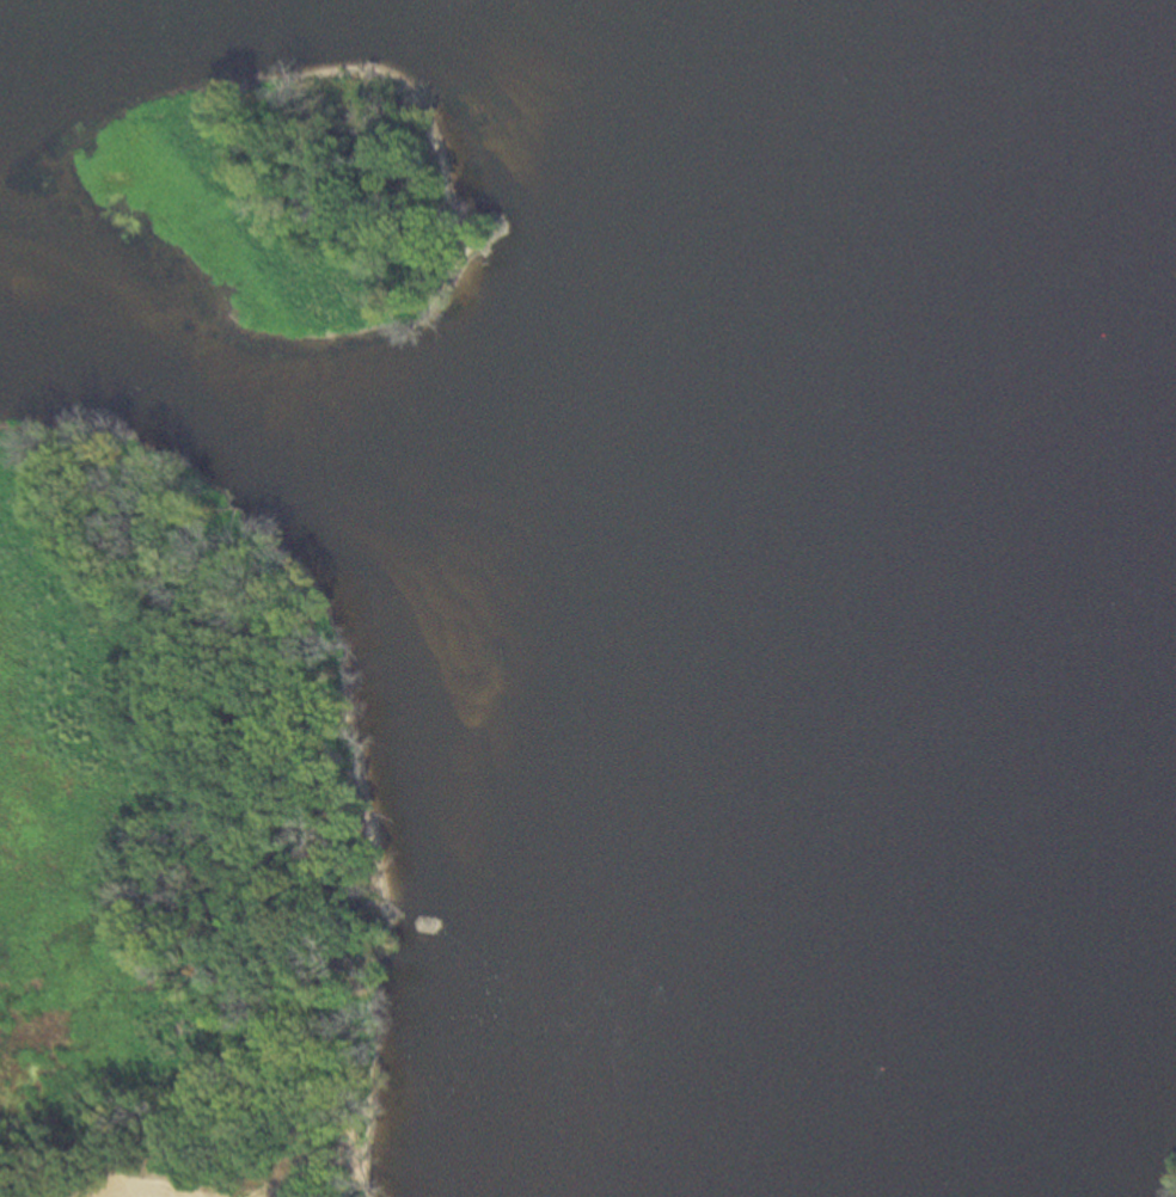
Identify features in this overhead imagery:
river: (815, 583)

